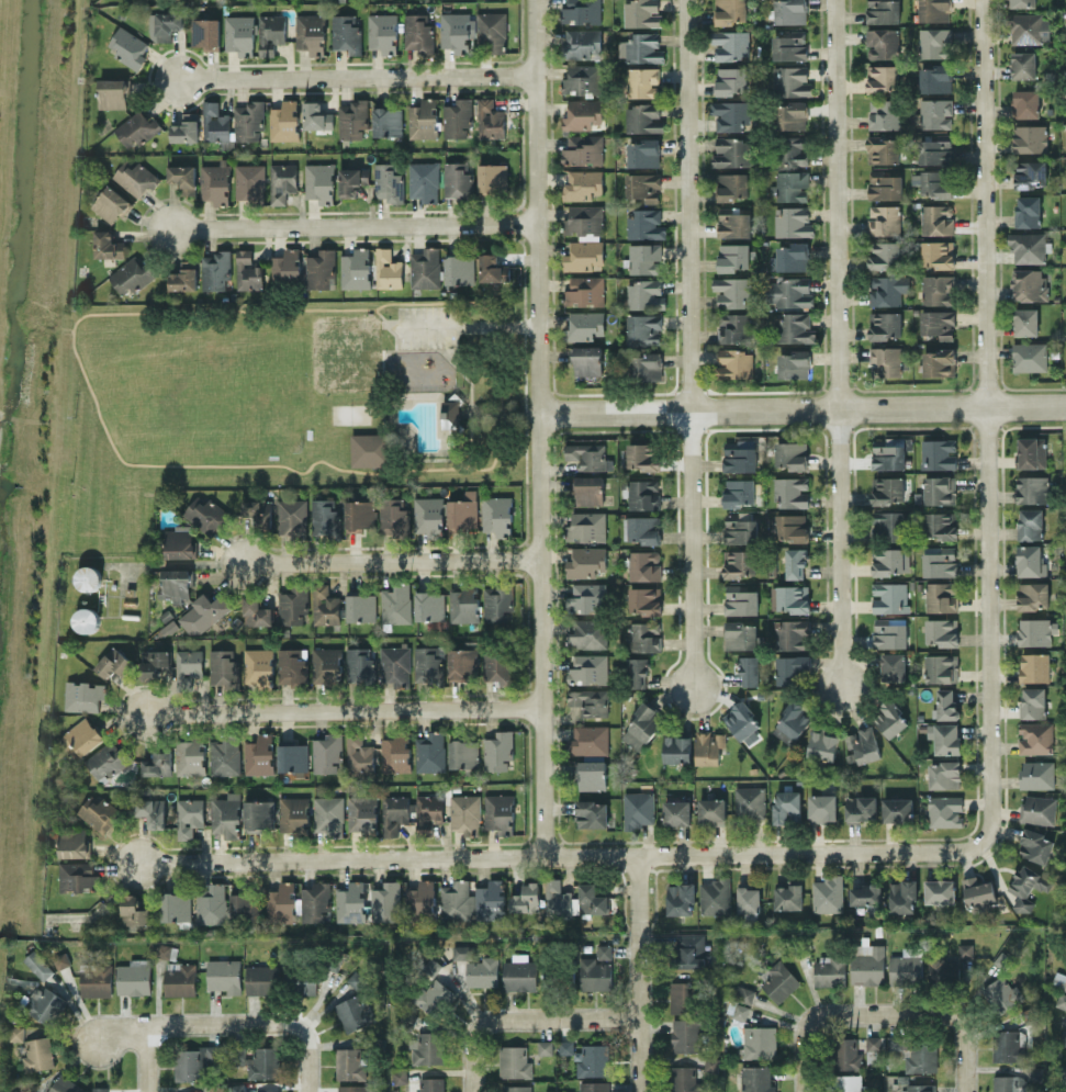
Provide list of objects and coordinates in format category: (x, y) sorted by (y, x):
building: (143, 0)
building: (1022, 3)
building: (934, 10)
building: (581, 11)
building: (730, 11)
building: (789, 11)
building: (883, 11)
building: (641, 12)
building: (165, 24)
building: (1028, 27)
building: (457, 30)
building: (492, 30)
building: (270, 32)
building: (310, 32)
building: (382, 32)
building: (417, 32)
building: (205, 33)
building: (346, 33)
building: (239, 34)
building: (882, 42)
building: (934, 42)
building: (582, 43)
building: (730, 43)
building: (789, 45)
building: (128, 47)
building: (640, 47)
building: (1023, 64)
road: (358, 74)
building: (935, 77)
building: (582, 78)
building: (882, 78)
building: (731, 79)
building: (790, 80)
building: (642, 81)
building: (113, 92)
building: (1025, 102)
building: (935, 112)
building: (582, 113)
building: (884, 113)
building: (731, 114)
building: (792, 114)
building: (315, 115)
building: (354, 117)
building: (457, 117)
building: (642, 117)
building: (423, 119)
building: (490, 119)
building: (248, 120)
building: (284, 120)
building: (386, 121)
building: (214, 122)
building: (184, 127)
building: (136, 128)
building: (1030, 137)
building: (582, 149)
building: (793, 149)
building: (883, 149)
building: (934, 149)
building: (731, 151)
building: (643, 153)
building: (1029, 172)
building: (134, 177)
building: (182, 177)
building: (492, 177)
building: (351, 179)
building: (457, 179)
building: (389, 180)
building: (424, 180)
building: (249, 181)
building: (281, 181)
building: (319, 181)
building: (215, 182)
building: (935, 183)
building: (582, 184)
building: (642, 184)
building: (790, 184)
building: (885, 184)
building: (732, 185)
building: (111, 203)
building: (1028, 211)
building: (884, 218)
building: (936, 218)
building: (584, 221)
building: (793, 221)
building: (732, 222)
building: (646, 223)
road: (355, 224)
building: (108, 244)
building: (1028, 247)
building: (938, 252)
building: (583, 255)
building: (885, 255)
building: (734, 256)
building: (792, 256)
building: (643, 257)
building: (287, 264)
building: (425, 267)
building: (356, 268)
building: (388, 268)
building: (492, 268)
building: (215, 269)
building: (321, 269)
building: (459, 269)
building: (247, 270)
building: (132, 274)
building: (183, 275)
building: (1029, 283)
building: (886, 289)
building: (938, 289)
building: (584, 291)
building: (732, 291)
building: (788, 292)
building: (644, 294)
building: (1025, 320)
building: (938, 323)
building: (885, 324)
road: (473, 325)
building: (584, 325)
road: (25, 326)
parking lot: (424, 326)
building: (732, 327)
building: (795, 327)
road: (61, 328)
building: (643, 328)
road: (693, 342)
road: (840, 342)
park: (345, 352)
building: (1029, 356)
building: (586, 359)
building: (885, 361)
building: (939, 361)
building: (733, 363)
building: (794, 363)
building: (644, 365)
park: (291, 393)
road: (470, 398)
road: (803, 409)
road: (504, 413)
building: (450, 414)
road: (989, 424)
road: (539, 427)
building: (368, 449)
building: (1031, 451)
building: (887, 452)
building: (938, 452)
building: (587, 454)
building: (790, 454)
building: (642, 455)
road: (368, 470)
building: (887, 488)
building: (940, 488)
building: (1031, 488)
building: (588, 489)
building: (790, 491)
building: (739, 492)
building: (643, 493)
building: (258, 510)
building: (463, 511)
building: (205, 514)
building: (360, 514)
building: (497, 514)
building: (429, 515)
building: (292, 516)
building: (393, 516)
building: (325, 517)
building: (1030, 522)
building: (887, 525)
building: (940, 525)
building: (586, 526)
building: (740, 526)
building: (792, 527)
building: (641, 528)
building: (179, 541)
road: (394, 560)
building: (890, 560)
building: (1030, 560)
building: (585, 561)
building: (739, 562)
building: (795, 562)
building: (940, 562)
building: (643, 564)
building: (88, 577)
building: (176, 583)
building: (1033, 595)
building: (889, 596)
building: (941, 596)
building: (585, 597)
building: (789, 597)
building: (644, 599)
building: (740, 599)
building: (497, 601)
building: (395, 603)
building: (462, 604)
building: (292, 605)
building: (324, 605)
building: (428, 605)
building: (360, 606)
building: (256, 611)
building: (203, 612)
building: (86, 619)
building: (1035, 630)
building: (941, 631)
building: (889, 632)
building: (587, 633)
building: (790, 633)
building: (740, 634)
building: (644, 635)
building: (113, 662)
building: (462, 662)
building: (501, 663)
building: (154, 664)
building: (188, 664)
building: (326, 664)
building: (359, 664)
building: (395, 664)
building: (427, 664)
building: (291, 665)
building: (893, 665)
building: (223, 666)
building: (1033, 666)
building: (790, 667)
building: (941, 667)
building: (587, 668)
building: (749, 669)
building: (637, 672)
building: (83, 695)
building: (588, 700)
building: (1033, 701)
road: (343, 707)
building: (889, 718)
building: (792, 722)
building: (743, 723)
building: (642, 725)
building: (81, 736)
building: (944, 736)
building: (1035, 736)
building: (588, 740)
building: (822, 744)
building: (708, 746)
building: (677, 748)
building: (497, 750)
building: (327, 752)
building: (429, 752)
building: (394, 753)
building: (259, 754)
building: (359, 754)
building: (463, 754)
building: (190, 756)
building: (225, 756)
building: (292, 756)
building: (105, 759)
building: (157, 763)
building: (591, 774)
building: (944, 774)
building: (1036, 774)
building: (749, 802)
building: (786, 806)
building: (822, 807)
building: (861, 807)
building: (638, 808)
building: (896, 809)
building: (1037, 809)
building: (711, 810)
building: (944, 810)
building: (152, 811)
building: (676, 811)
building: (99, 812)
building: (395, 812)
building: (428, 812)
building: (465, 812)
building: (498, 812)
building: (293, 813)
building: (361, 813)
building: (591, 813)
building: (226, 814)
building: (259, 814)
building: (328, 814)
building: (189, 815)
building: (74, 842)
building: (1035, 845)
road: (557, 855)
building: (78, 876)
building: (1028, 887)
building: (940, 890)
building: (977, 890)
building: (827, 893)
building: (865, 893)
building: (788, 894)
building: (714, 896)
building: (902, 896)
building: (524, 897)
building: (680, 898)
building: (420, 899)
building: (490, 899)
building: (573, 899)
building: (748, 899)
building: (315, 900)
building: (385, 900)
building: (456, 900)
building: (282, 901)
building: (350, 901)
building: (212, 904)
building: (176, 905)
building: (244, 905)
building: (133, 910)
building: (688, 949)
building: (965, 949)
building: (604, 950)
building: (462, 952)
building: (60, 959)
building: (867, 964)
building: (37, 965)
building: (430, 966)
building: (905, 967)
building: (942, 967)
building: (482, 970)
building: (829, 970)
road: (641, 972)
building: (519, 973)
building: (595, 973)
building: (224, 975)
building: (134, 977)
building: (357, 977)
building: (180, 978)
building: (96, 979)
building: (261, 979)
building: (778, 979)
building: (1061, 980)
building: (306, 982)
building: (1002, 994)
building: (433, 995)
building: (682, 997)
building: (1061, 1000)
building: (739, 1001)
building: (44, 1004)
building: (354, 1012)
road: (556, 1018)
road: (813, 1020)
road: (961, 1020)
road: (257, 1023)
road: (121, 1027)
building: (15, 1033)
building: (685, 1034)
building: (1064, 1036)
building: (759, 1040)
building: (873, 1042)
building: (1005, 1044)
building: (545, 1046)
building: (565, 1046)
building: (426, 1047)
building: (916, 1051)
building: (37, 1052)
building: (238, 1054)
road: (145, 1058)
road: (471, 1058)
building: (592, 1059)
building: (193, 1060)
building: (514, 1061)
building: (263, 1062)
building: (349, 1063)
building: (1063, 1073)
building: (684, 1079)
building: (755, 1079)
building: (845, 1082)
building: (430, 1083)
building: (1008, 1083)
building: (65, 1084)
building: (593, 1085)
building: (918, 1087)
building: (351, 1088)
building: (516, 1088)
building: (99, 1089)
building: (268, 1091)
building: (1065, 1091)

